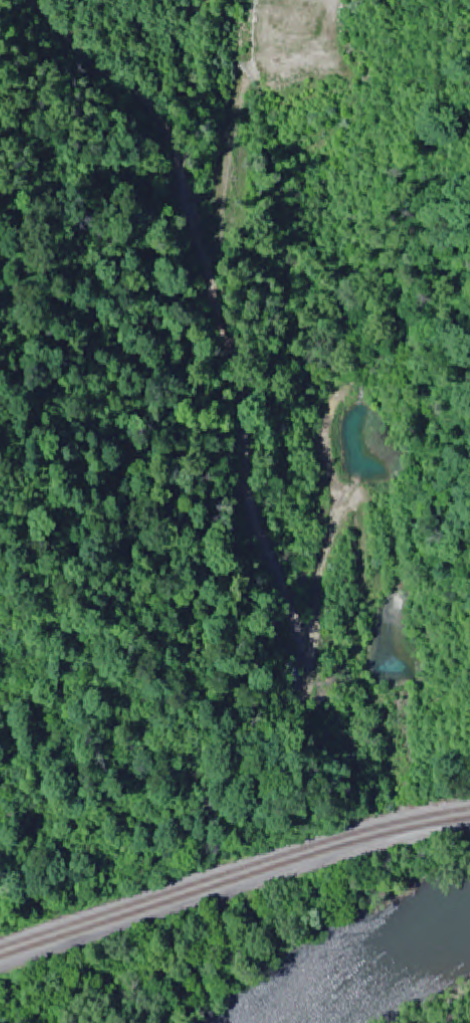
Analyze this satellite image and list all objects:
quarry: (307, 72)
railway: (233, 874)
road: (234, 897)
river: (375, 975)

